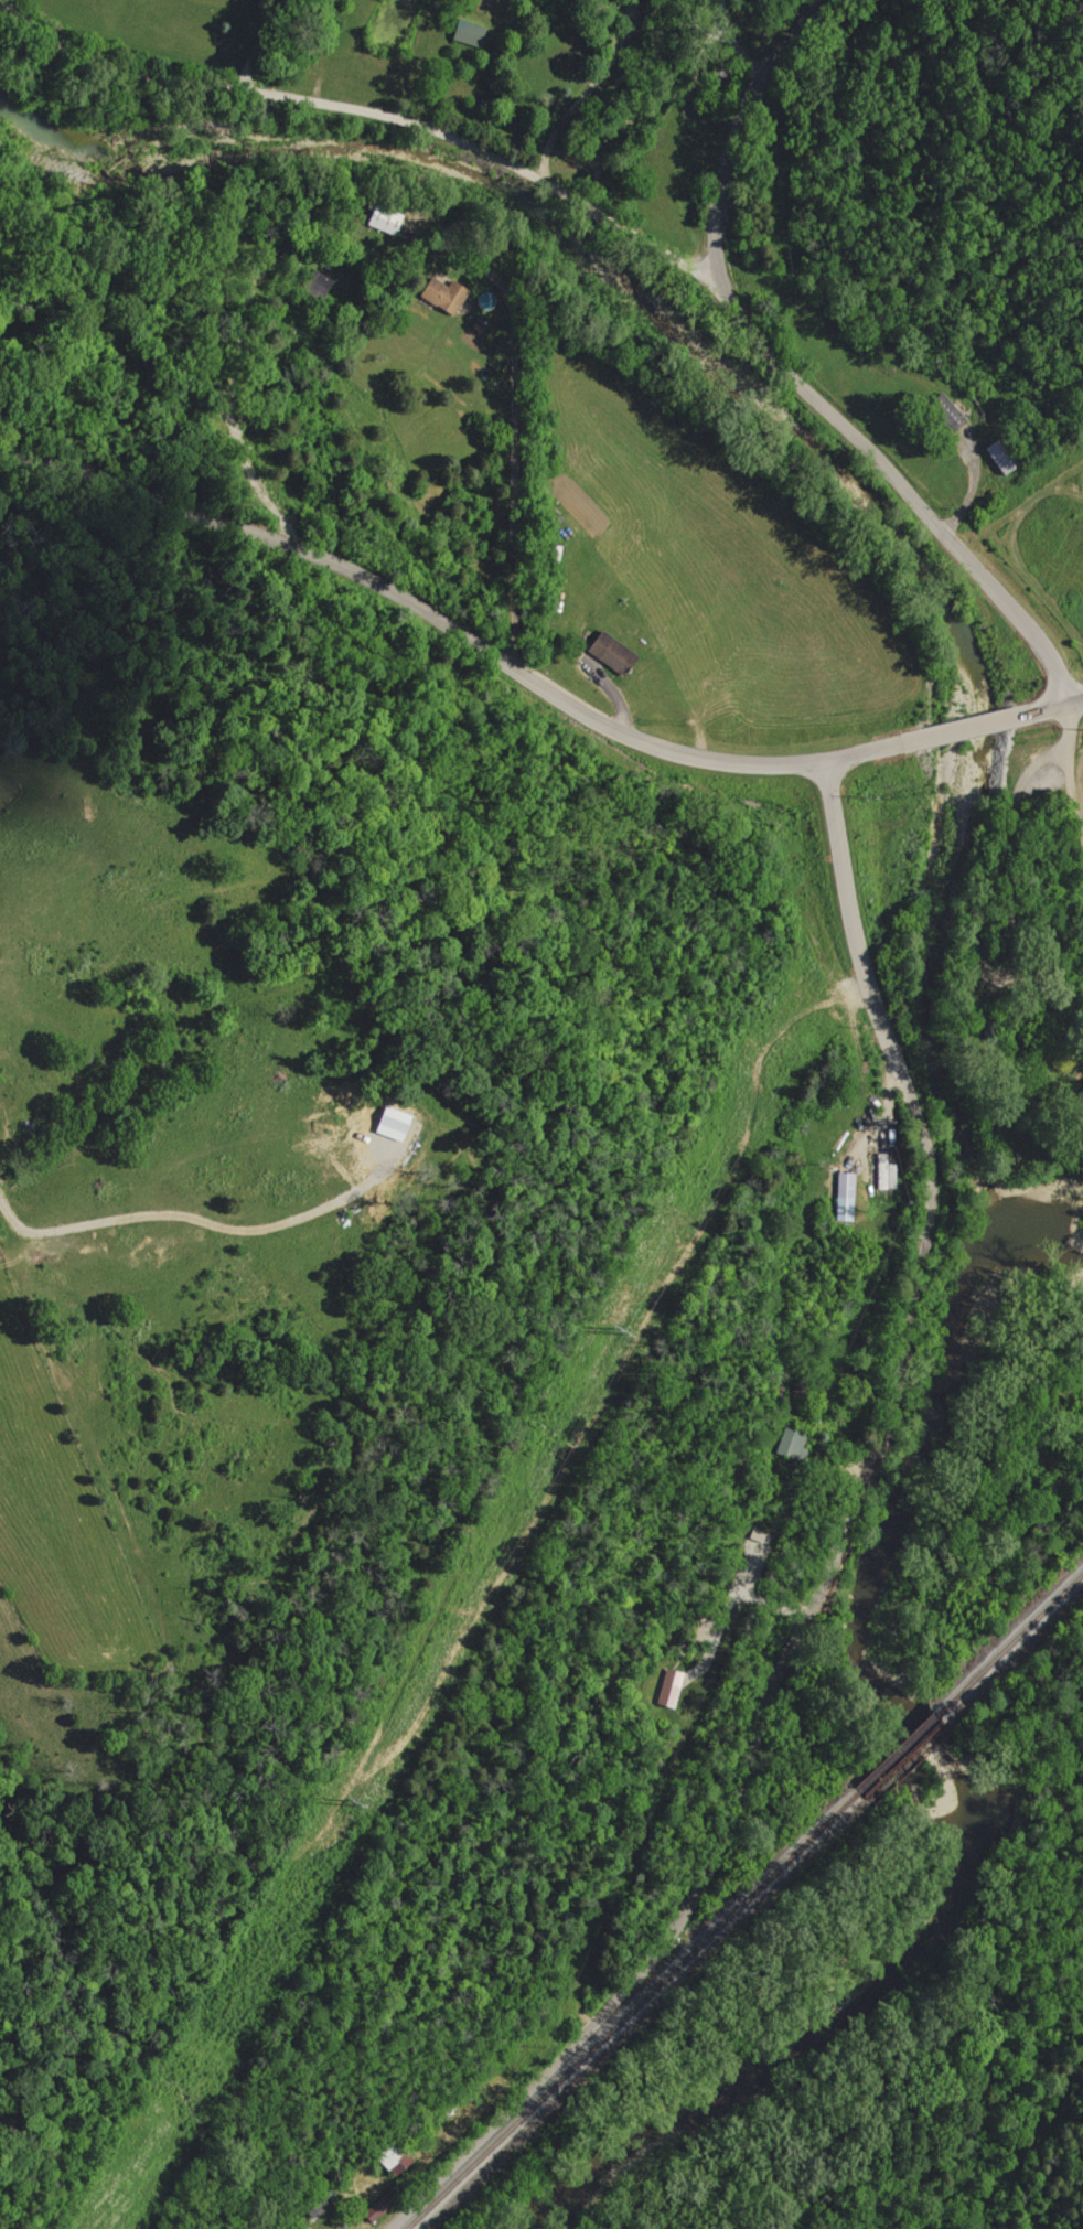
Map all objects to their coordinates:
building: (469, 32)
road: (545, 107)
road: (343, 152)
building: (317, 283)
building: (441, 294)
road: (748, 350)
building: (944, 411)
road: (971, 485)
building: (607, 651)
road: (529, 674)
building: (882, 1172)
building: (844, 1196)
building: (790, 1442)
road: (832, 1563)
building: (667, 1687)
railway: (744, 1903)
building: (393, 2156)

